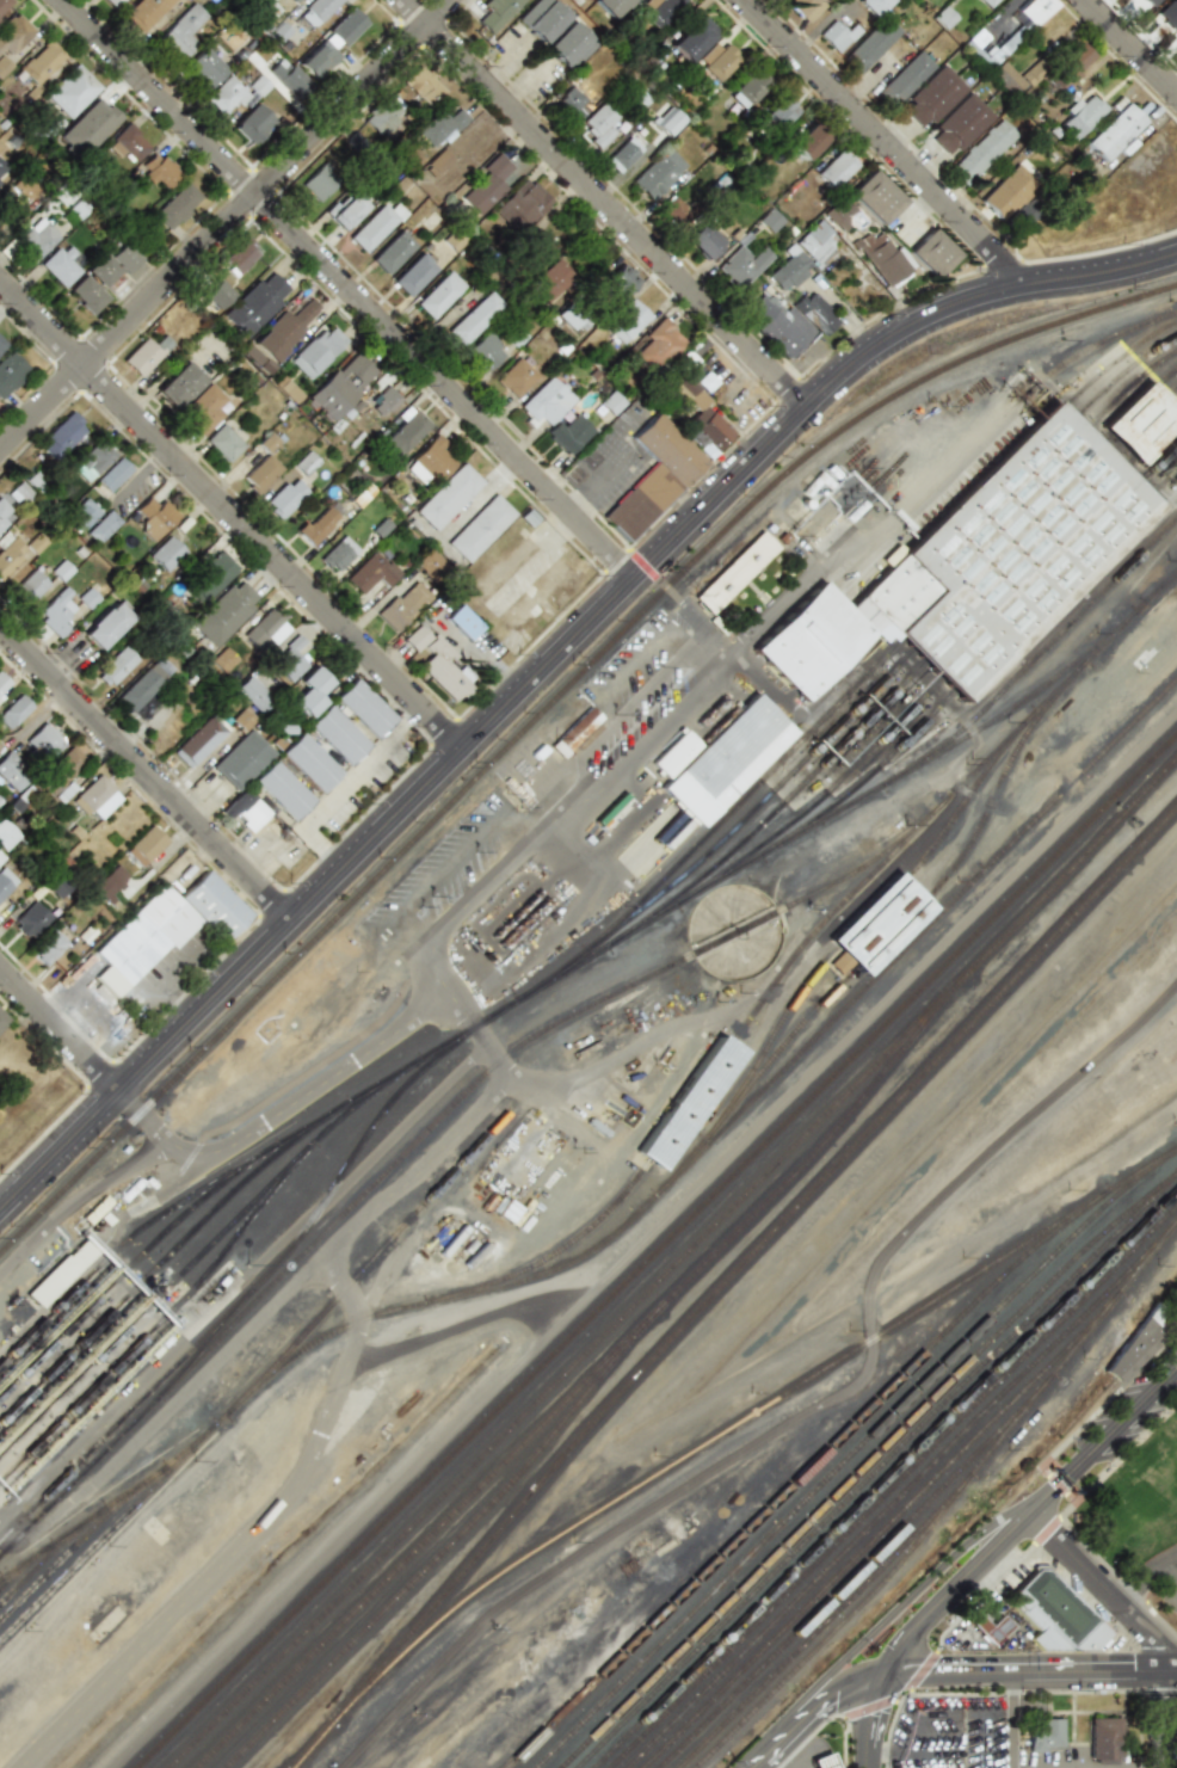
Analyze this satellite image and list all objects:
building: (290, 0)
building: (113, 2)
building: (986, 2)
building: (1148, 2)
building: (2, 4)
building: (873, 5)
building: (610, 6)
building: (805, 8)
building: (658, 10)
building: (316, 11)
building: (146, 12)
building: (497, 12)
building: (1169, 12)
building: (944, 18)
building: (542, 19)
building: (1025, 23)
building: (346, 26)
building: (181, 32)
building: (13, 33)
building: (1176, 35)
building: (837, 36)
building: (691, 37)
building: (976, 39)
building: (569, 45)
building: (870, 45)
road: (1133, 45)
road: (505, 57)
building: (318, 60)
building: (715, 60)
building: (1074, 60)
building: (41, 62)
building: (2, 64)
building: (205, 67)
building: (1006, 75)
building: (1030, 75)
building: (286, 78)
building: (905, 79)
road: (526, 82)
building: (423, 86)
road: (1175, 86)
building: (70, 91)
building: (747, 91)
building: (226, 94)
building: (933, 97)
building: (572, 103)
building: (778, 113)
building: (1080, 115)
building: (384, 121)
building: (598, 123)
building: (670, 123)
building: (251, 124)
building: (961, 124)
building: (88, 127)
building: (439, 127)
building: (1114, 131)
road: (885, 142)
building: (128, 143)
building: (805, 143)
building: (984, 152)
building: (438, 162)
building: (1, 167)
building: (833, 170)
building: (159, 171)
building: (658, 173)
building: (319, 181)
building: (487, 185)
building: (25, 189)
building: (1006, 193)
building: (875, 197)
road: (604, 203)
building: (177, 205)
building: (522, 205)
building: (346, 209)
building: (674, 209)
building: (839, 214)
building: (1023, 215)
building: (770, 220)
road: (226, 224)
building: (374, 226)
building: (37, 239)
building: (703, 240)
building: (816, 242)
building: (392, 252)
building: (931, 253)
building: (240, 257)
building: (881, 257)
building: (125, 258)
building: (61, 265)
building: (742, 265)
building: (101, 270)
building: (789, 270)
building: (413, 275)
building: (553, 279)
building: (620, 282)
road: (347, 288)
building: (87, 294)
building: (216, 294)
building: (437, 295)
building: (255, 303)
building: (472, 319)
building: (572, 319)
building: (627, 321)
building: (789, 321)
building: (277, 335)
building: (1, 345)
building: (658, 345)
building: (316, 351)
building: (481, 352)
building: (144, 355)
building: (10, 371)
building: (513, 377)
building: (178, 384)
building: (340, 386)
road: (1016, 392)
railway: (1025, 398)
building: (382, 401)
building: (544, 402)
building: (203, 409)
building: (700, 419)
building: (1144, 421)
railway: (1144, 421)
railway: (1044, 426)
building: (402, 432)
building: (567, 433)
building: (61, 436)
railway: (1052, 441)
building: (222, 443)
building: (667, 450)
railway: (1060, 457)
building: (91, 461)
building: (430, 462)
building: (304, 463)
building: (260, 474)
building: (113, 475)
building: (18, 493)
building: (448, 497)
building: (284, 498)
building: (640, 503)
building: (82, 513)
road: (230, 513)
building: (4, 515)
building: (154, 517)
building: (316, 525)
building: (101, 526)
building: (479, 528)
building: (35, 543)
building: (1012, 552)
building: (166, 554)
building: (338, 554)
building: (10, 555)
building: (426, 562)
building: (60, 571)
building: (734, 572)
building: (370, 573)
railway: (1175, 577)
building: (208, 578)
building: (29, 586)
road: (787, 603)
building: (402, 605)
building: (55, 612)
building: (223, 612)
building: (462, 622)
building: (105, 626)
building: (265, 629)
building: (413, 636)
railway: (616, 637)
railway: (902, 641)
building: (222, 660)
building: (288, 660)
road: (547, 663)
building: (115, 666)
road: (719, 667)
building: (900, 669)
railway: (978, 669)
building: (444, 673)
railway: (907, 680)
railway: (941, 680)
building: (2, 685)
railway: (874, 690)
building: (141, 691)
building: (309, 691)
road: (691, 691)
building: (252, 694)
railway: (1031, 696)
building: (364, 708)
building: (13, 711)
building: (241, 720)
building: (574, 732)
building: (337, 734)
building: (43, 741)
building: (198, 741)
railway: (920, 752)
building: (674, 753)
building: (241, 759)
building: (726, 760)
building: (309, 763)
building: (11, 772)
building: (58, 774)
road: (143, 774)
road: (1003, 783)
road: (566, 786)
road: (345, 788)
building: (282, 790)
building: (94, 797)
building: (246, 809)
road: (492, 821)
building: (5, 836)
building: (144, 846)
building: (0, 856)
building: (5, 881)
building: (110, 882)
railway: (839, 882)
building: (54, 886)
building: (214, 905)
railway: (779, 916)
building: (29, 920)
railway: (906, 920)
railway: (865, 922)
building: (883, 924)
building: (141, 938)
building: (47, 948)
railway: (585, 951)
railway: (782, 973)
road: (118, 996)
building: (2, 1019)
road: (58, 1031)
railway: (420, 1070)
road: (587, 1073)
road: (315, 1085)
building: (692, 1103)
railway: (746, 1108)
road: (146, 1120)
railway: (300, 1135)
railway: (314, 1141)
road: (991, 1156)
railway: (251, 1163)
railway: (70, 1184)
railway: (204, 1188)
railway: (87, 1189)
railway: (248, 1208)
building: (509, 1211)
railway: (344, 1215)
railway: (658, 1251)
railway: (676, 1265)
building: (60, 1274)
railway: (727, 1280)
railway: (68, 1298)
building: (1176, 1304)
railway: (84, 1313)
railway: (103, 1322)
railway: (204, 1347)
building: (1135, 1350)
railway: (99, 1356)
railway: (264, 1375)
railway: (590, 1378)
railway: (91, 1391)
road: (327, 1403)
railway: (137, 1404)
railway: (756, 1412)
road: (1107, 1448)
railway: (851, 1455)
railway: (865, 1465)
railway: (876, 1471)
railway: (885, 1479)
railway: (799, 1480)
railway: (894, 1487)
railway: (902, 1495)
railway: (949, 1507)
railway: (109, 1508)
railway: (887, 1528)
railway: (444, 1551)
railway: (67, 1554)
railway: (39, 1565)
railway: (859, 1572)
road: (1144, 1576)
railway: (13, 1577)
road: (1166, 1578)
road: (955, 1590)
road: (1108, 1591)
road: (898, 1602)
building: (1053, 1614)
railway: (822, 1627)
building: (987, 1627)
traffic signals: (908, 1639)
traffic signals: (941, 1672)
road: (1030, 1672)
road: (833, 1698)
traffic signals: (830, 1700)
road: (873, 1720)
road: (1015, 1720)
road: (1165, 1720)
traffic signals: (873, 1723)
building: (1044, 1733)
building: (1107, 1739)
road: (824, 1748)
road: (768, 1749)
road: (791, 1751)
building: (822, 1761)

